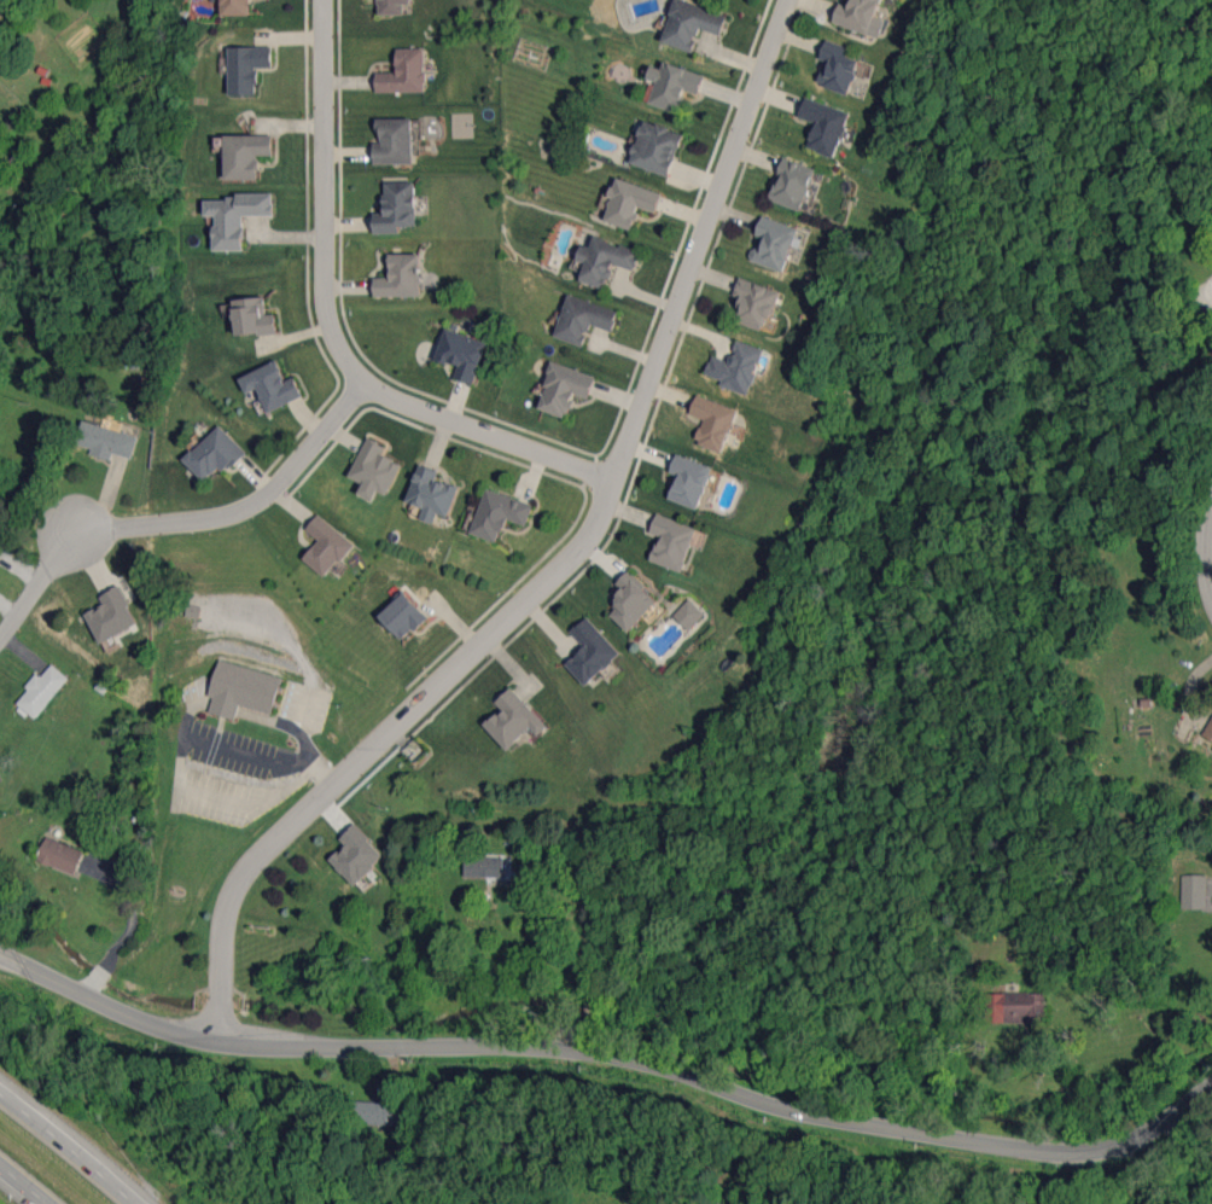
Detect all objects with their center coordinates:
building: (392, 6)
building: (235, 7)
building: (861, 16)
building: (691, 24)
building: (839, 66)
building: (246, 68)
building: (404, 72)
building: (674, 85)
building: (827, 126)
building: (394, 141)
building: (655, 147)
building: (244, 155)
building: (793, 184)
building: (629, 203)
building: (396, 207)
building: (234, 217)
building: (775, 244)
building: (605, 260)
building: (401, 277)
building: (756, 302)
building: (254, 316)
building: (583, 319)
road: (330, 332)
building: (462, 354)
building: (738, 367)
building: (272, 385)
building: (564, 389)
building: (713, 421)
building: (105, 441)
building: (215, 453)
building: (374, 469)
building: (689, 481)
building: (432, 493)
road: (244, 508)
building: (500, 514)
building: (672, 541)
road: (1204, 545)
building: (326, 546)
road: (564, 564)
road: (36, 586)
building: (631, 601)
building: (689, 613)
building: (111, 615)
building: (403, 615)
building: (590, 652)
building: (241, 690)
building: (42, 691)
building: (513, 720)
building: (1208, 729)
road: (181, 757)
building: (62, 855)
building: (356, 855)
building: (483, 866)
building: (1193, 891)
road: (130, 926)
road: (571, 965)
building: (1015, 1007)
road: (612, 1053)
road: (1066, 1092)
building: (375, 1113)
road: (72, 1142)
road: (23, 1185)

